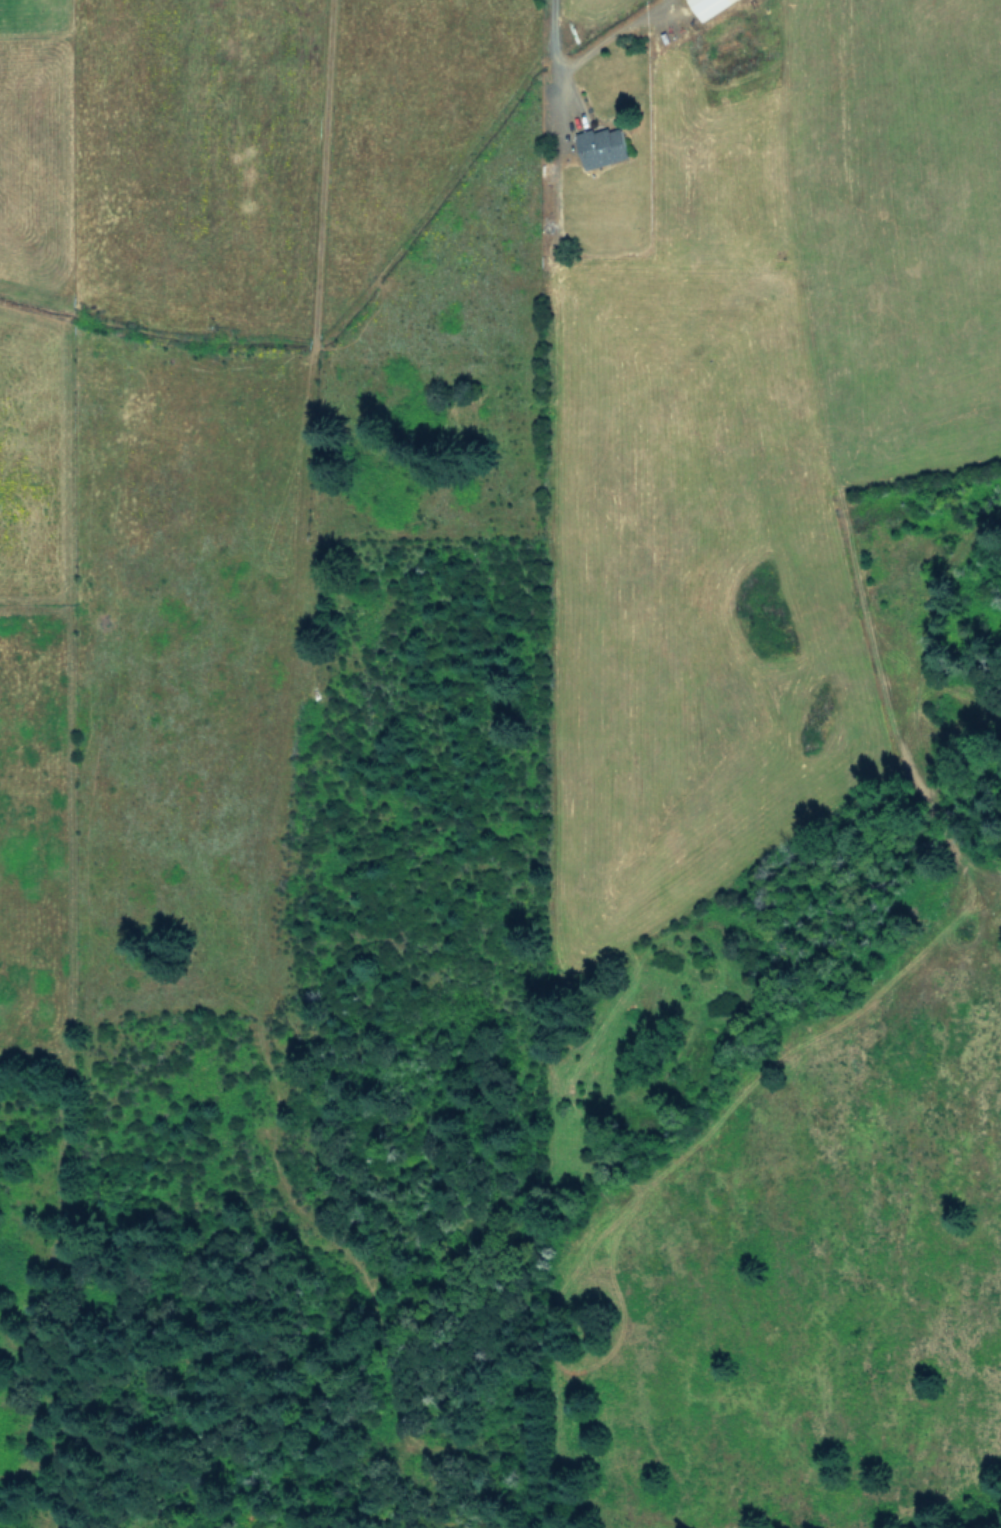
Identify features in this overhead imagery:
road: (549, 63)
building: (600, 146)

